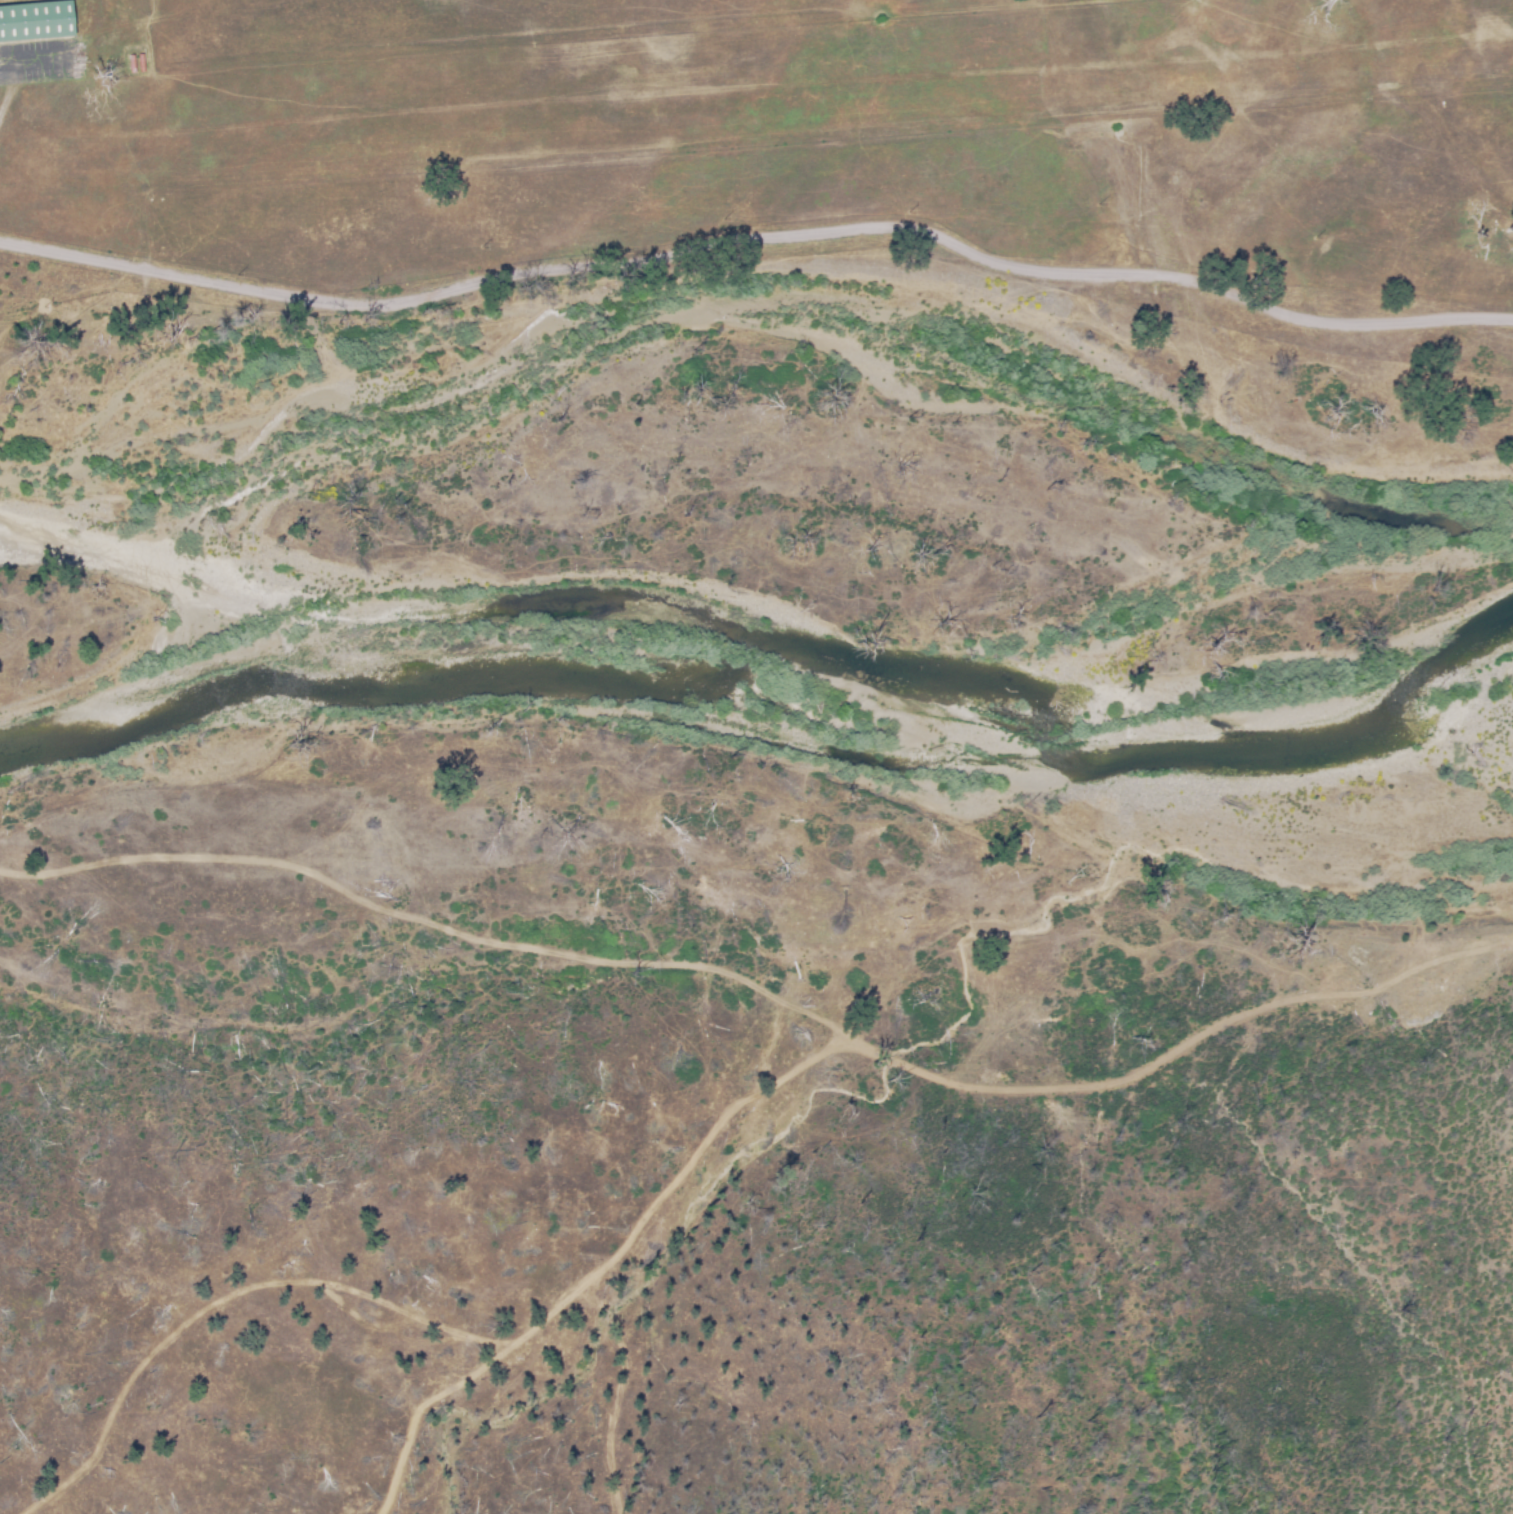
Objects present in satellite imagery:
building: (36, 19)
parking lot: (40, 61)
building: (132, 62)
building: (140, 62)
road: (759, 234)
road: (770, 997)
road: (1351, 1356)

